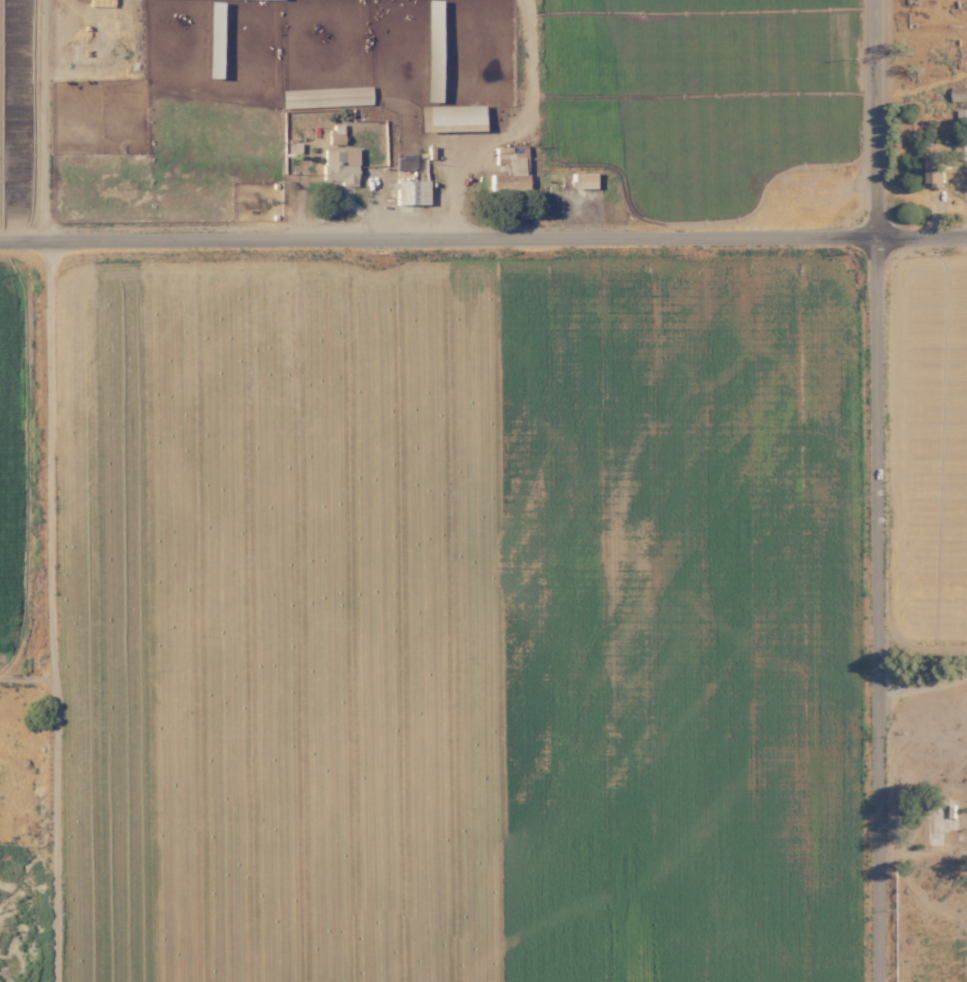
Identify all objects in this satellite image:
building: (962, 115)
crop: (16, 118)
crop: (717, 123)
building: (334, 167)
building: (933, 170)
building: (506, 172)
building: (579, 180)
building: (407, 192)
road: (483, 237)
road: (878, 490)
road: (923, 681)

